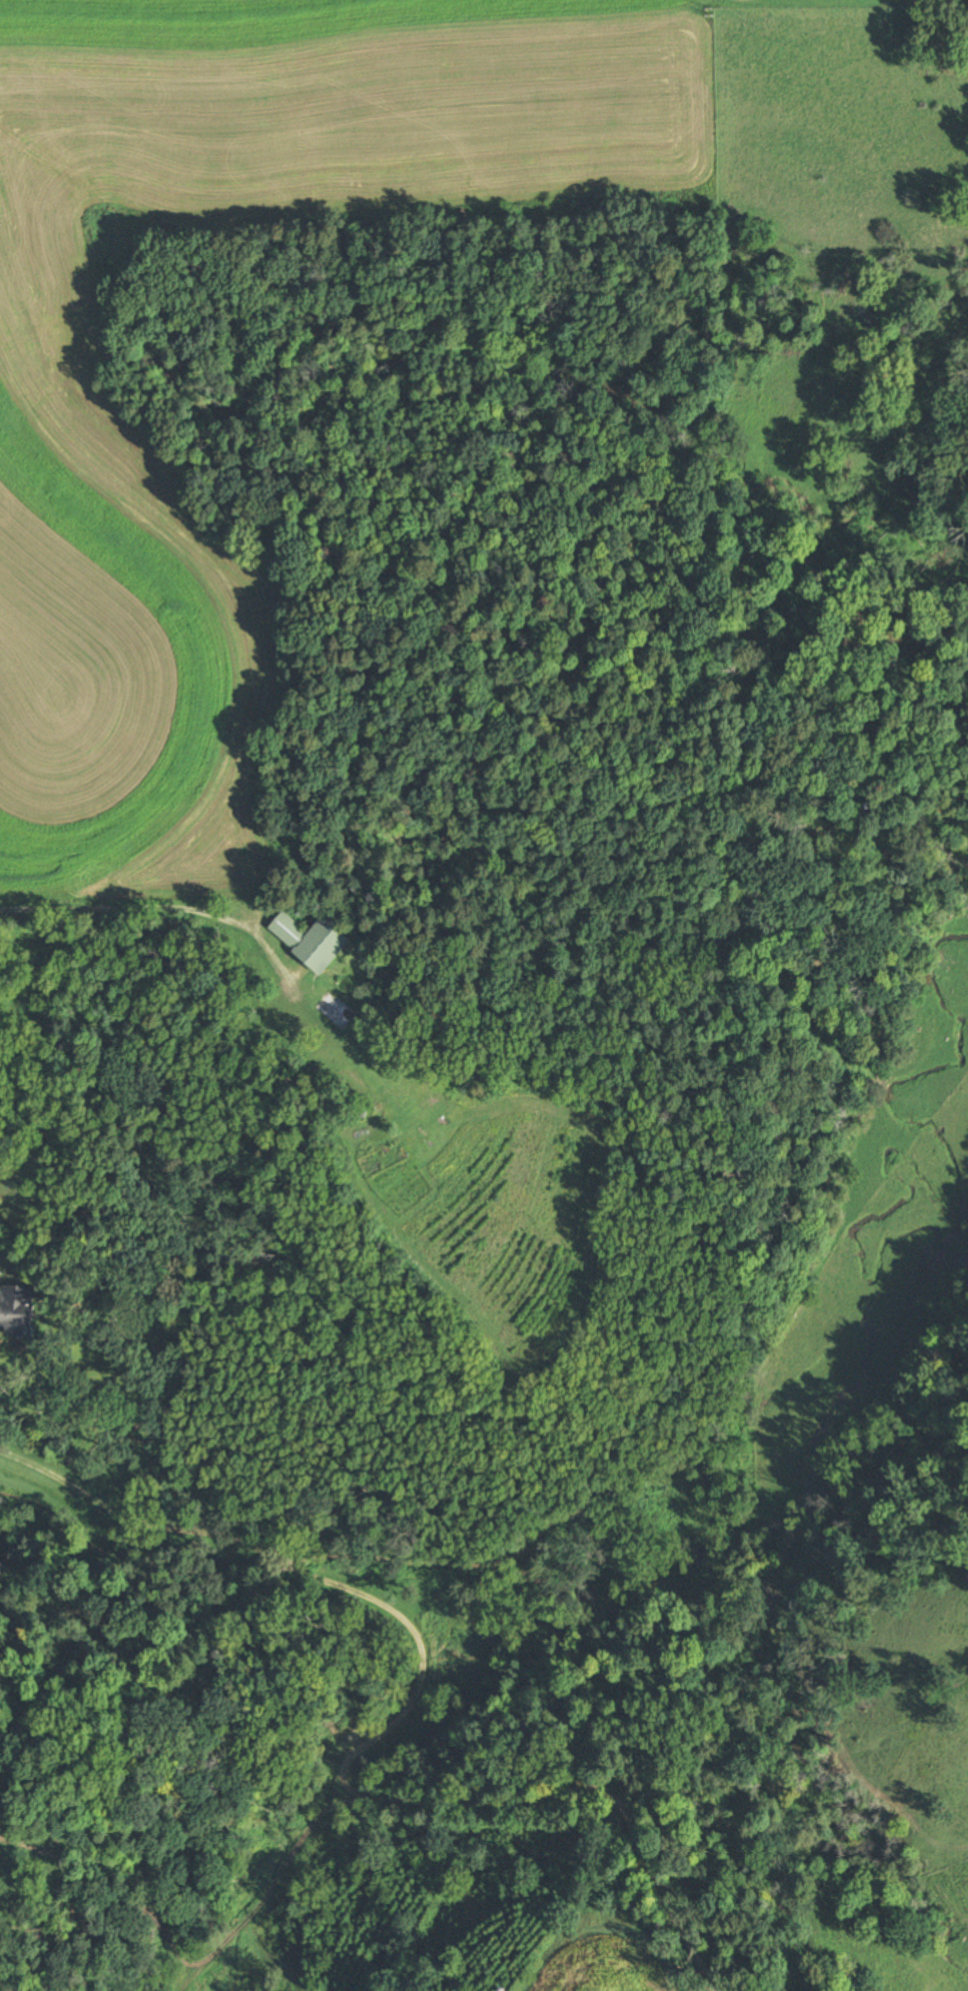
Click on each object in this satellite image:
road: (122, 906)
building: (312, 941)
building: (17, 1309)
road: (390, 1731)

